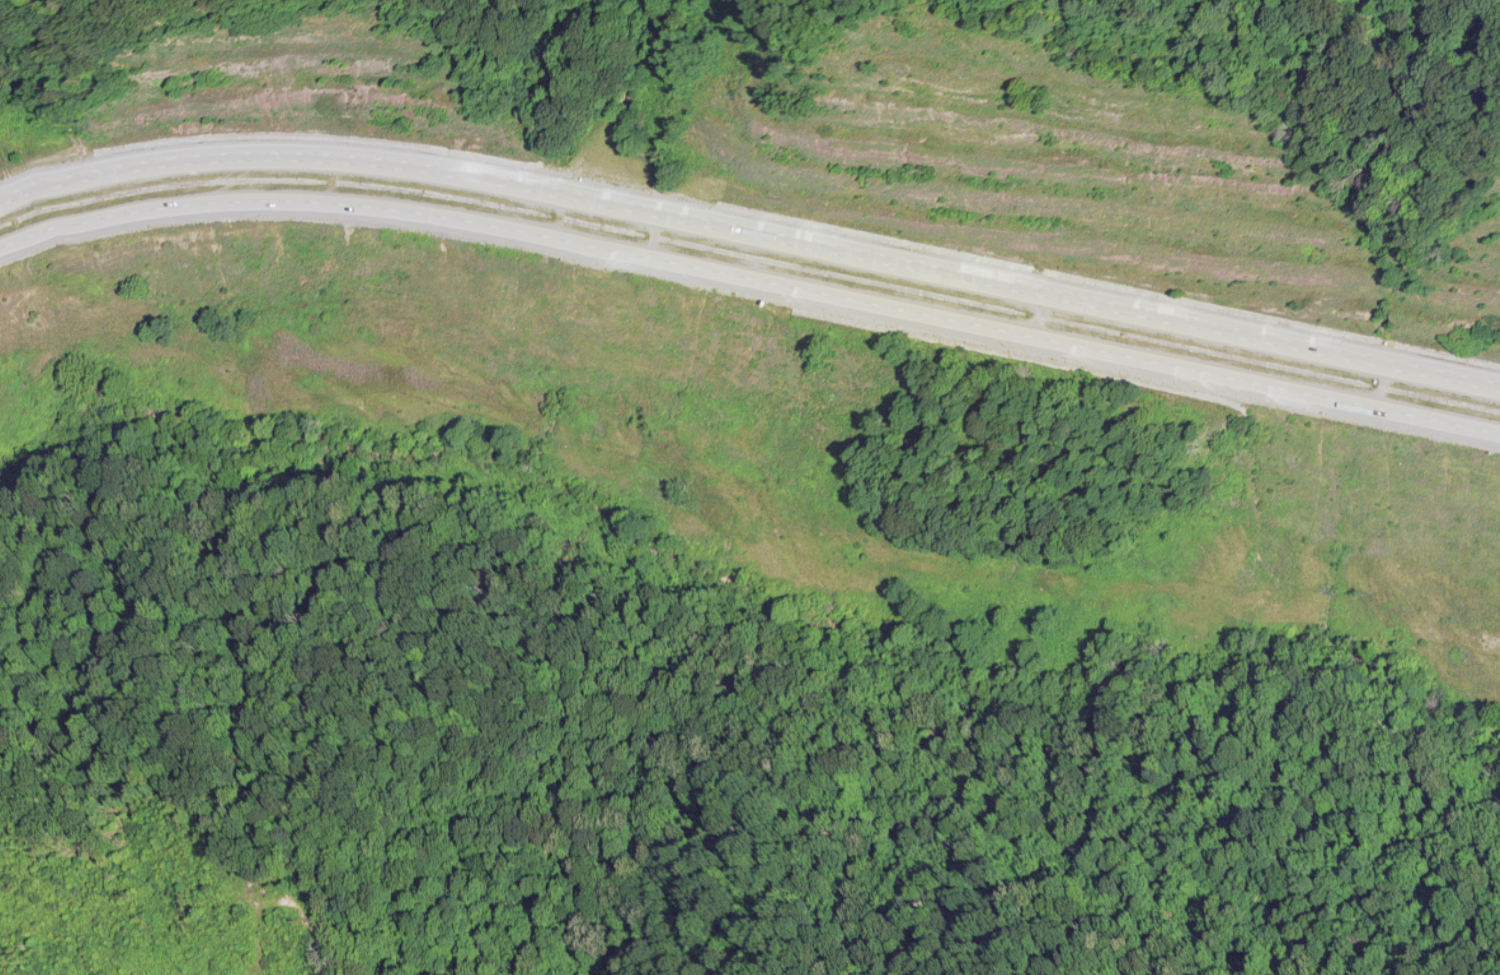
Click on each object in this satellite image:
road: (750, 231)
road: (750, 278)

